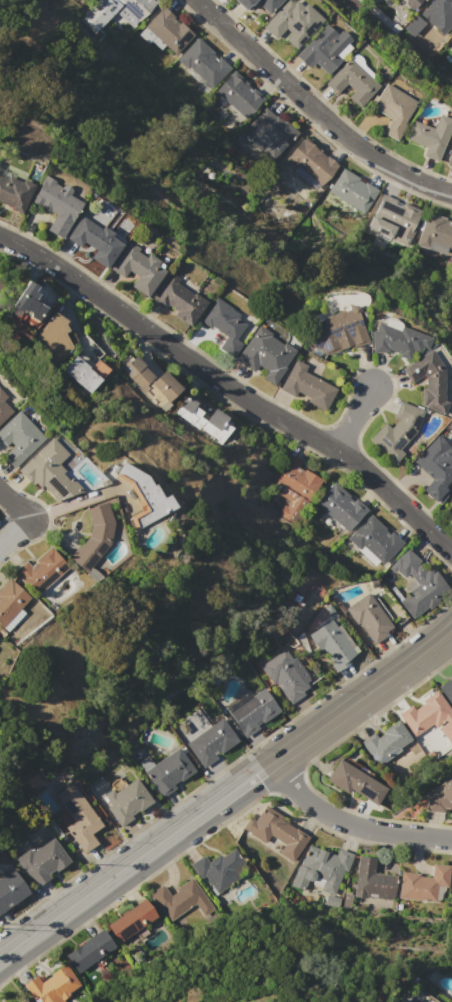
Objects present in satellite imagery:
building: (243, 3)
building: (413, 4)
building: (268, 5)
building: (114, 11)
building: (292, 22)
building: (431, 23)
building: (165, 32)
building: (451, 48)
building: (323, 49)
building: (203, 62)
building: (351, 82)
building: (239, 94)
road: (314, 109)
building: (393, 110)
building: (270, 134)
building: (430, 136)
building: (450, 158)
building: (311, 161)
building: (352, 191)
building: (13, 192)
building: (56, 204)
building: (392, 222)
building: (436, 237)
building: (95, 241)
building: (138, 268)
building: (180, 300)
building: (27, 301)
building: (223, 322)
building: (340, 331)
building: (54, 335)
building: (398, 340)
building: (265, 354)
building: (81, 374)
building: (150, 381)
building: (428, 381)
building: (309, 385)
road: (231, 388)
building: (3, 407)
road: (352, 417)
building: (206, 420)
building: (397, 431)
building: (19, 438)
building: (436, 465)
building: (49, 471)
building: (294, 488)
building: (143, 495)
road: (70, 502)
road: (13, 506)
building: (339, 507)
building: (450, 511)
road: (13, 533)
building: (94, 537)
building: (374, 541)
building: (41, 570)
building: (418, 584)
building: (10, 600)
building: (369, 618)
building: (334, 644)
building: (287, 675)
building: (447, 690)
road: (362, 695)
building: (250, 711)
building: (429, 716)
building: (212, 742)
building: (386, 743)
building: (169, 771)
building: (354, 782)
building: (441, 798)
building: (127, 801)
building: (79, 817)
road: (349, 826)
building: (277, 832)
road: (136, 859)
building: (42, 862)
building: (220, 870)
building: (321, 873)
building: (373, 881)
building: (425, 884)
building: (10, 889)
building: (451, 889)
building: (176, 898)
building: (131, 919)
building: (89, 950)
building: (52, 986)
building: (23, 1000)
building: (442, 1001)

